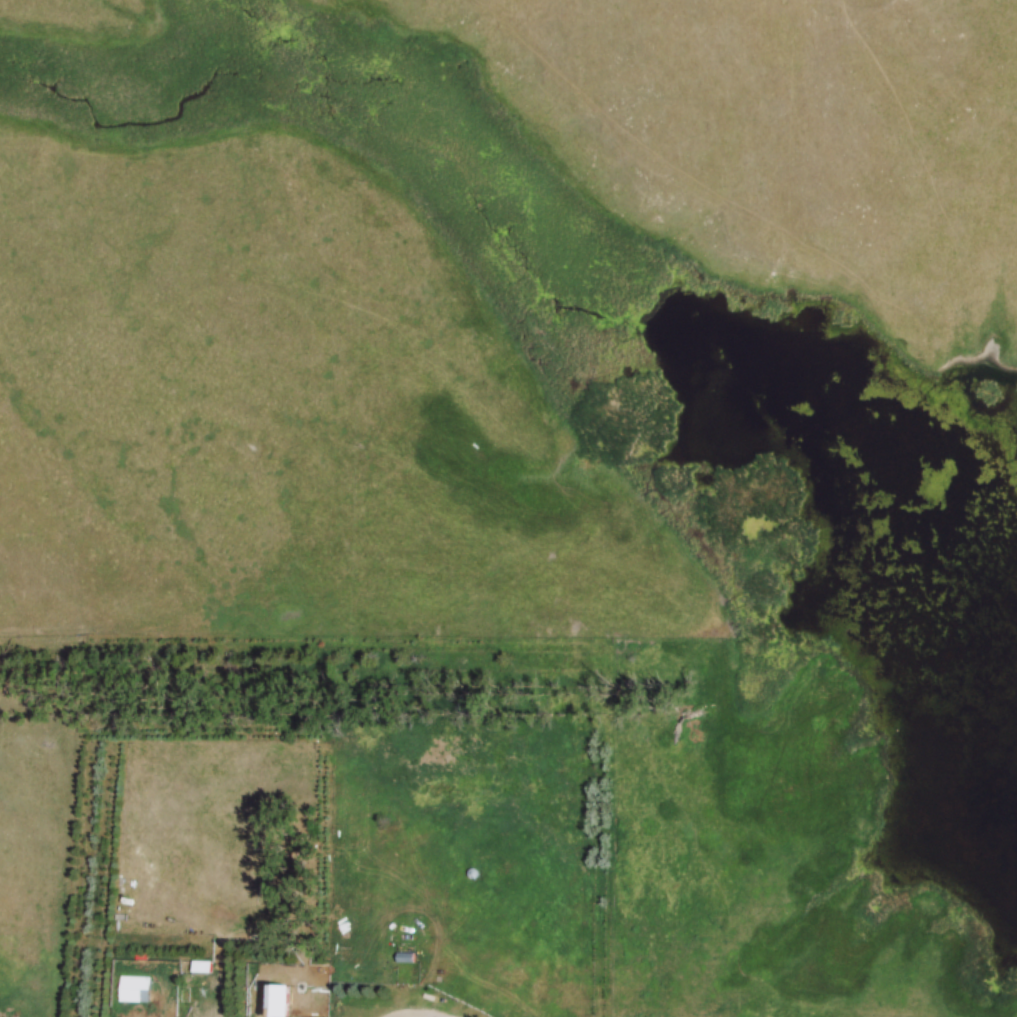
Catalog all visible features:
building: (279, 1000)

